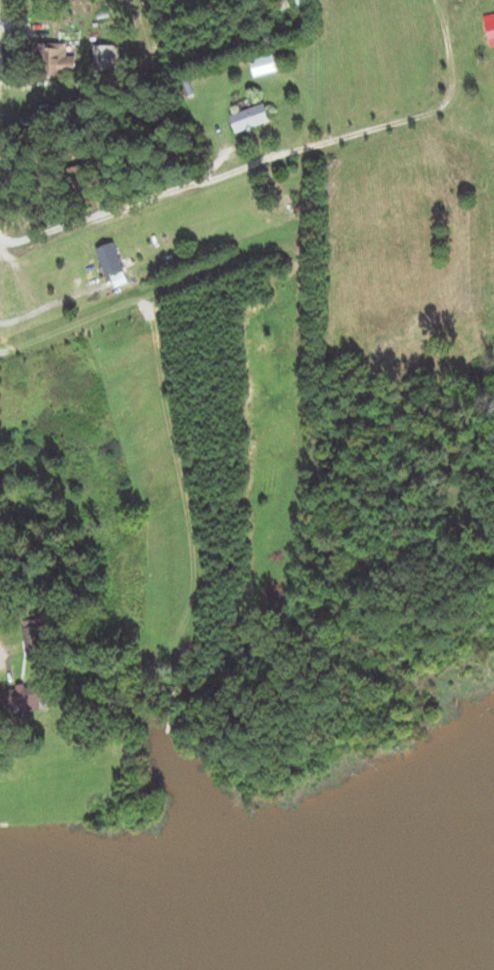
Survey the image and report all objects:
building: (301, 1)
building: (106, 58)
building: (61, 60)
building: (251, 117)
road: (260, 141)
building: (82, 179)
building: (111, 259)
building: (25, 699)

